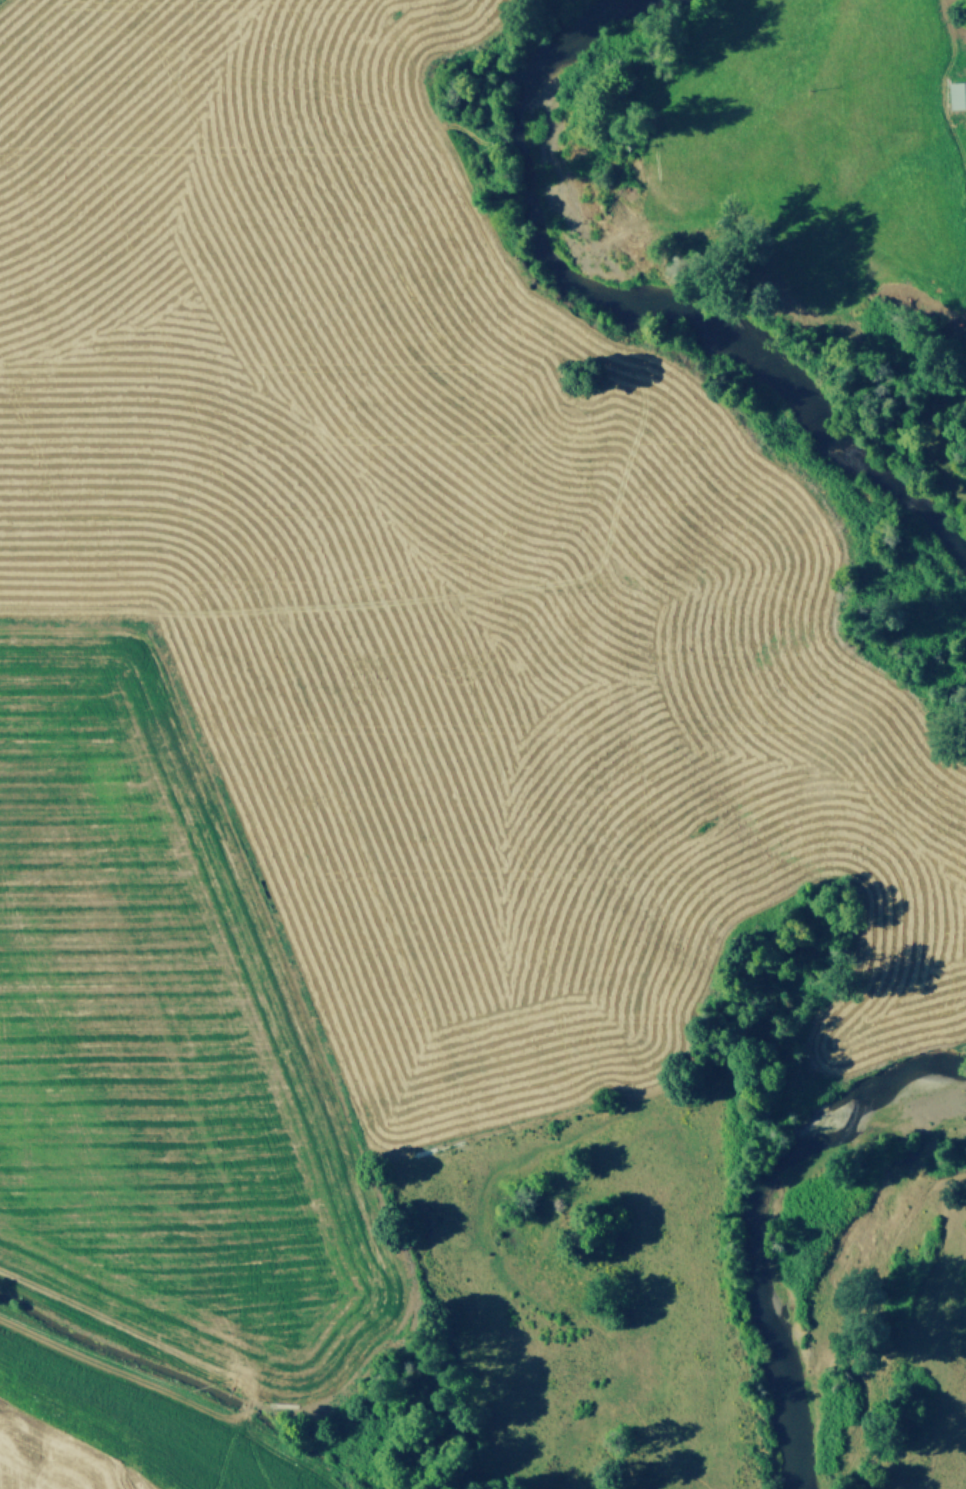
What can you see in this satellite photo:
building: (955, 95)
river: (642, 302)
crop: (375, 735)
river: (760, 1219)

